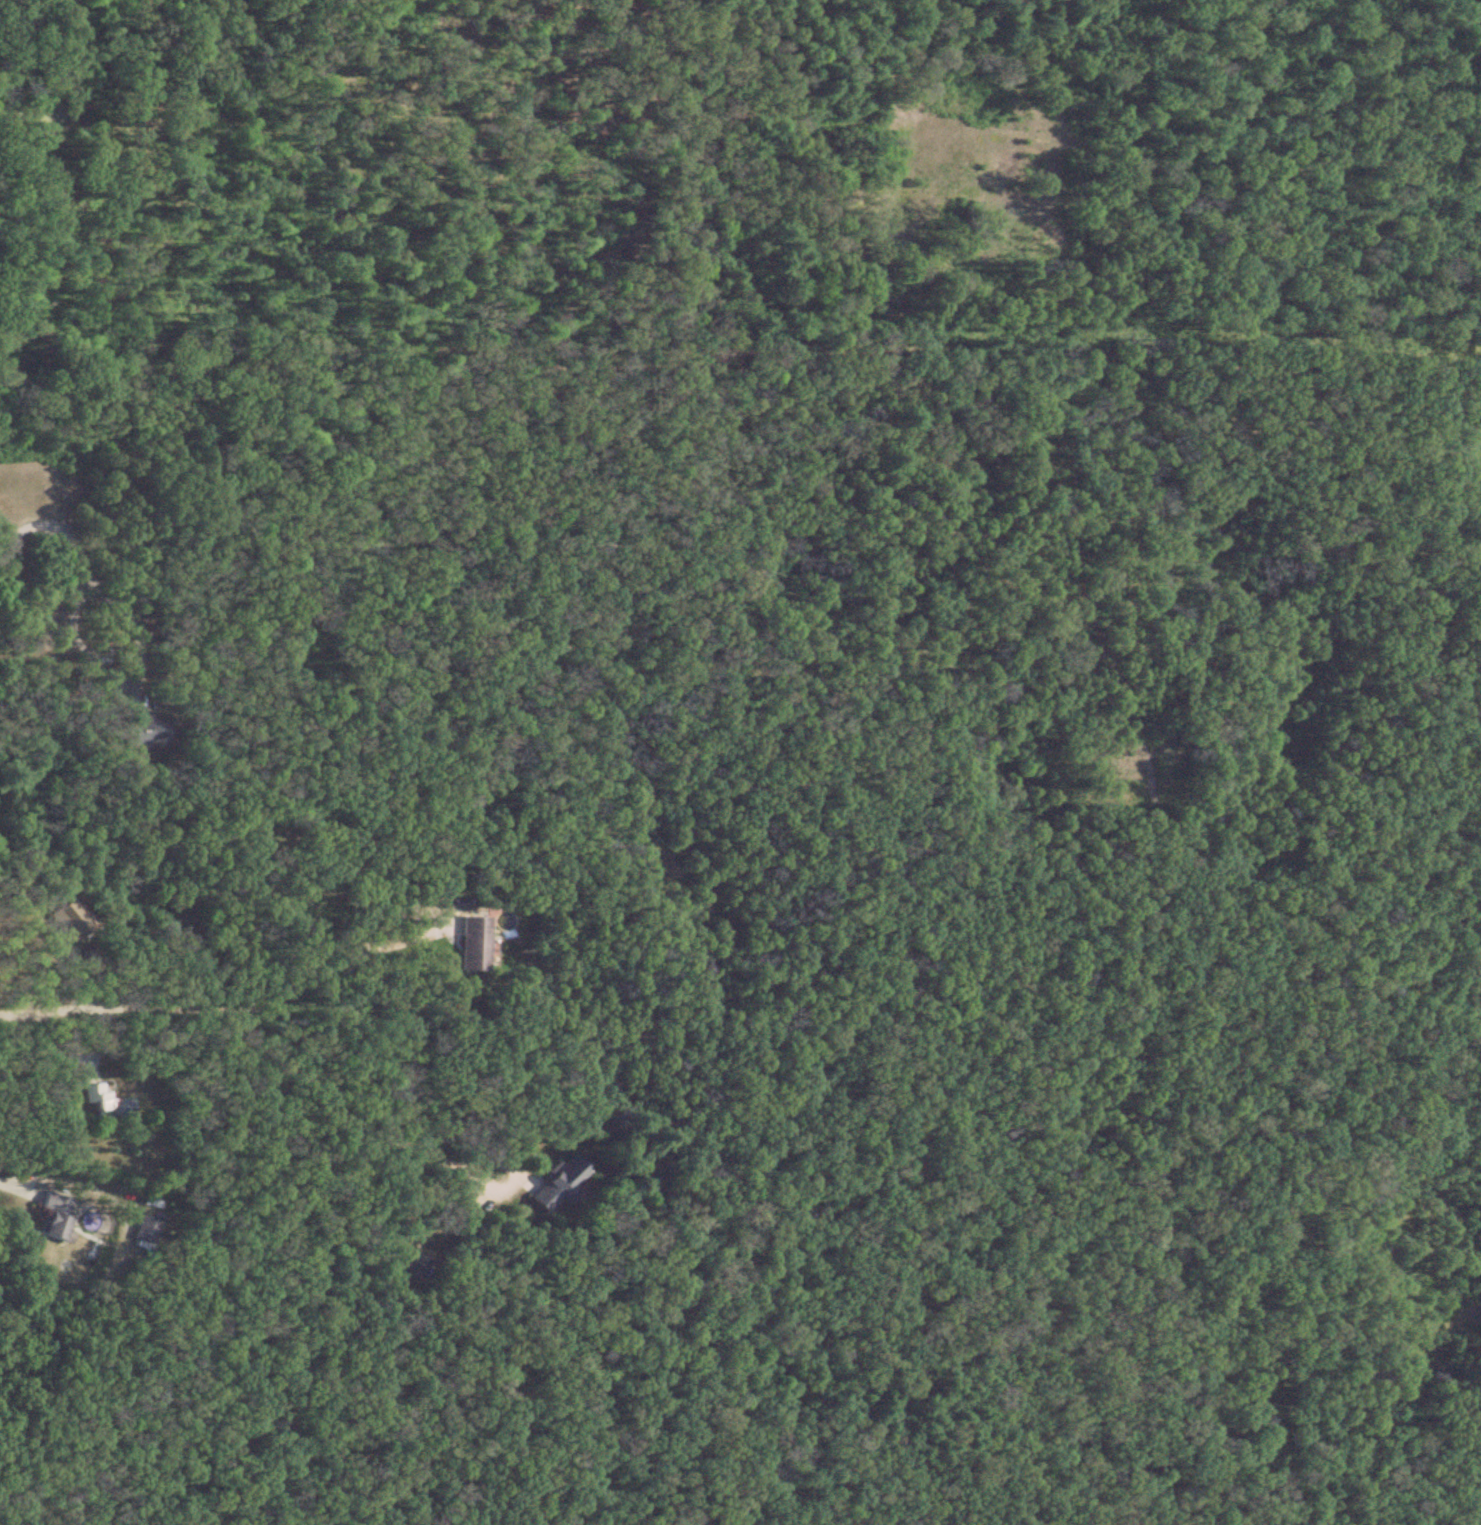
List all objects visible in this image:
road: (47, 522)
road: (108, 650)
building: (143, 731)
building: (66, 921)
road: (367, 942)
building: (466, 944)
road: (114, 1002)
building: (101, 1105)
road: (392, 1133)
road: (11, 1180)
building: (552, 1186)
building: (45, 1217)

